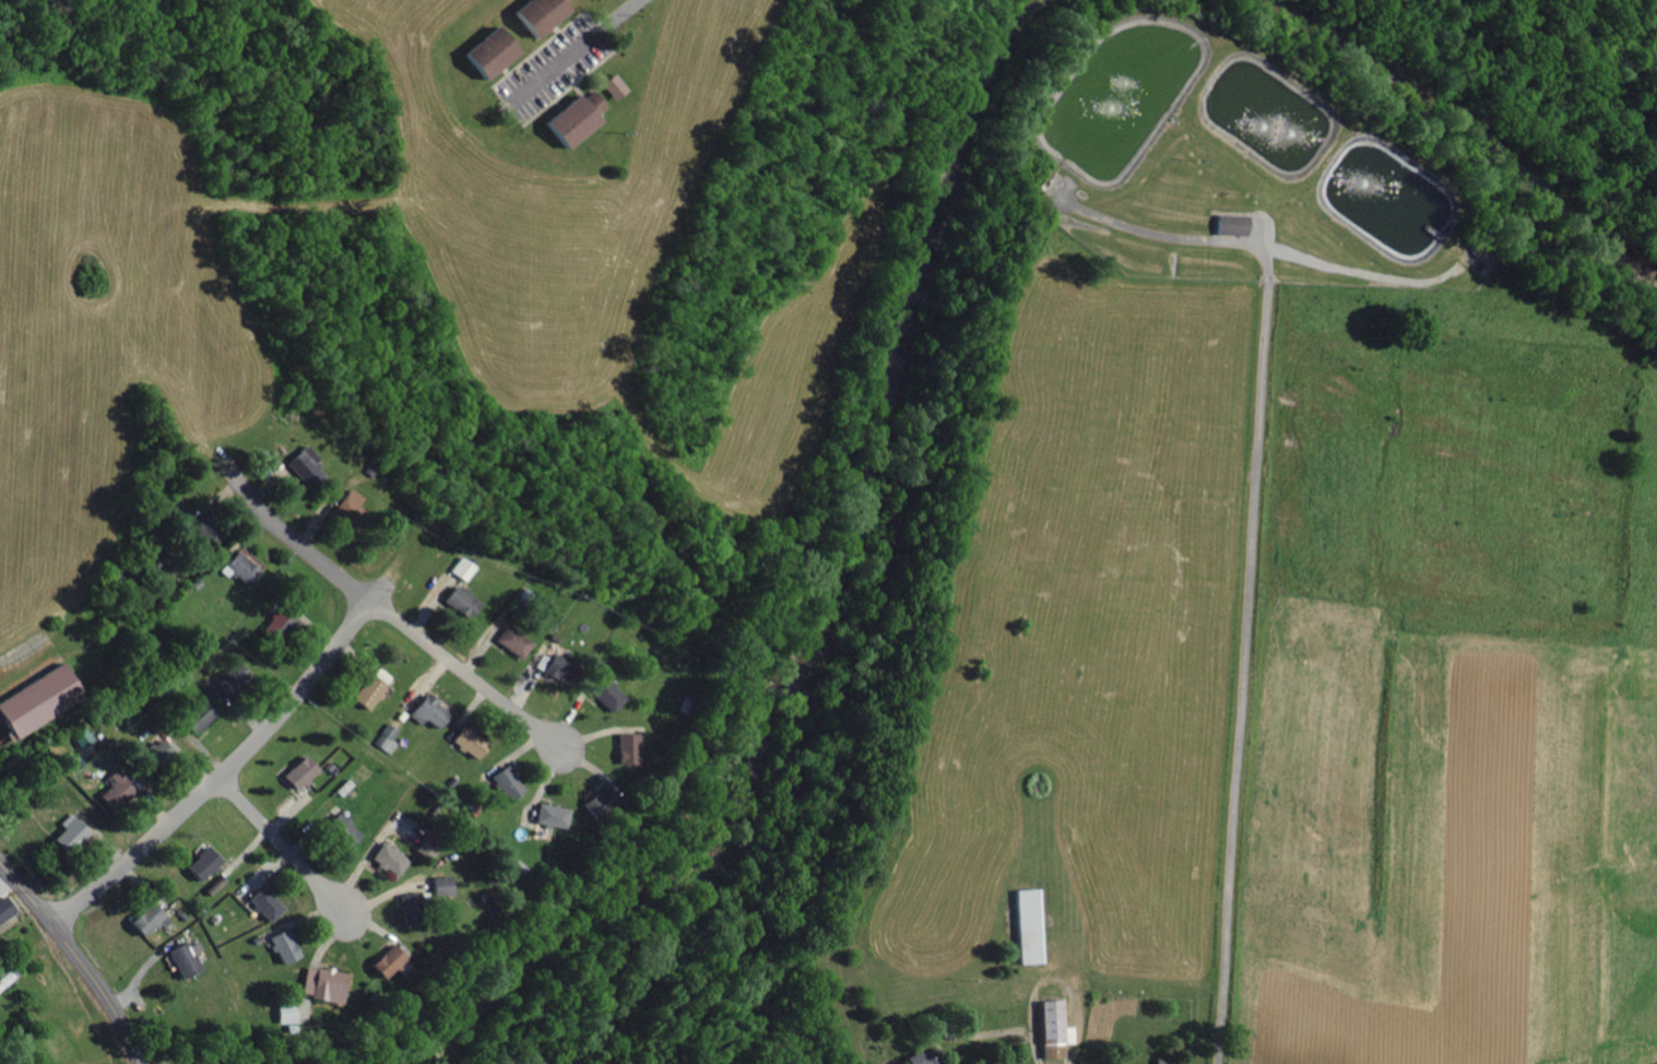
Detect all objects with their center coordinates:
building: (536, 13)
road: (624, 15)
building: (486, 49)
building: (613, 84)
building: (573, 115)
wastewater plant: (1238, 162)
building: (1229, 223)
building: (306, 466)
building: (348, 509)
building: (238, 567)
building: (462, 567)
building: (459, 601)
building: (281, 620)
road: (403, 624)
building: (512, 640)
building: (558, 666)
building: (382, 674)
road: (1247, 677)
building: (367, 690)
building: (606, 694)
building: (32, 700)
building: (427, 710)
building: (196, 714)
building: (386, 737)
building: (466, 741)
building: (625, 747)
building: (298, 771)
road: (225, 776)
building: (505, 781)
building: (114, 789)
building: (599, 801)
building: (549, 814)
building: (339, 828)
building: (66, 834)
building: (425, 844)
road: (291, 855)
building: (387, 858)
building: (201, 863)
building: (439, 884)
road: (27, 894)
building: (263, 902)
building: (402, 905)
building: (4, 906)
building: (144, 919)
building: (1026, 924)
building: (282, 945)
building: (181, 958)
building: (384, 959)
building: (322, 983)
road: (102, 991)
building: (284, 1012)
building: (1052, 1029)
building: (918, 1059)

